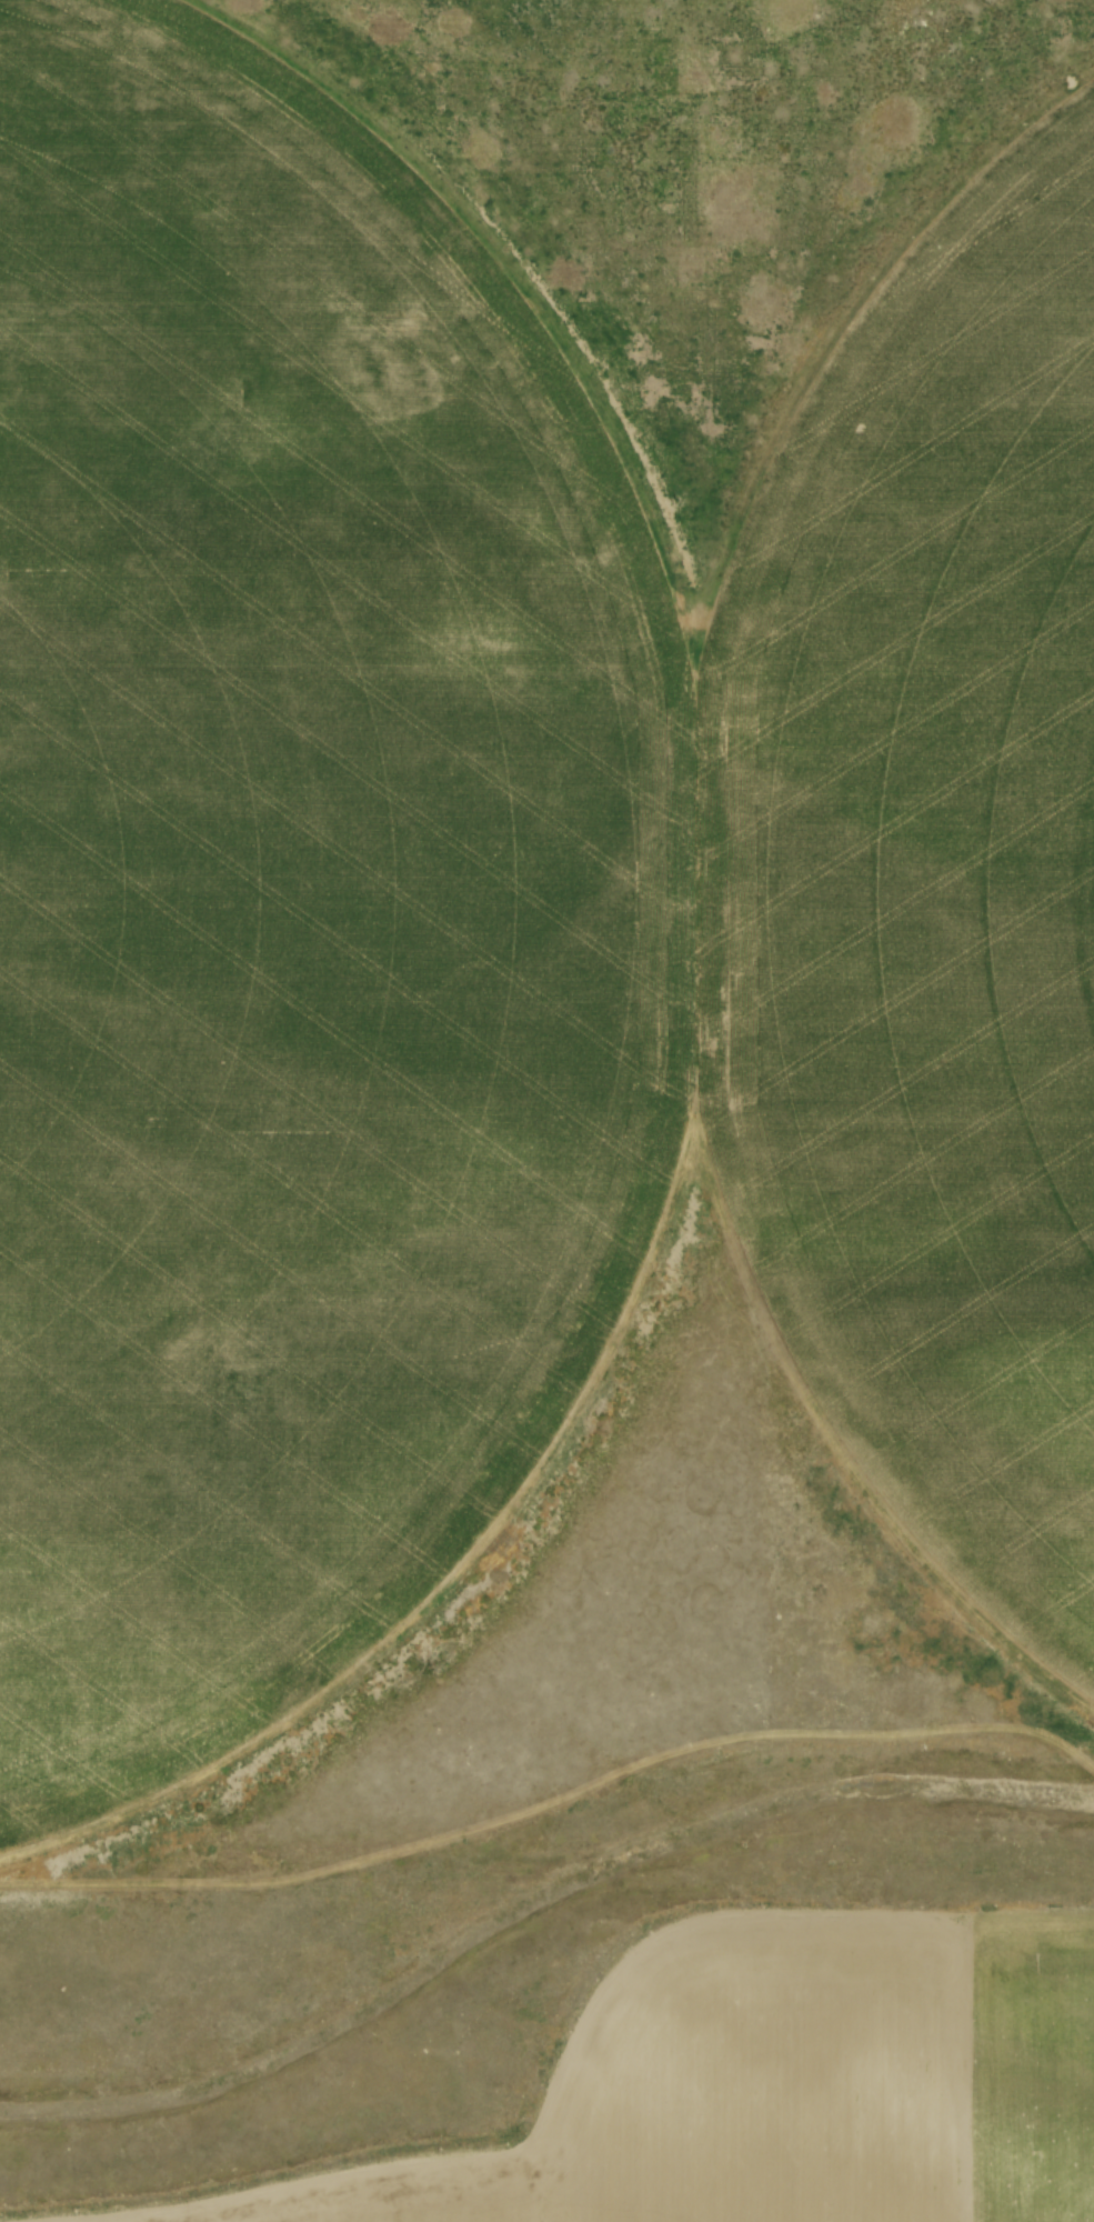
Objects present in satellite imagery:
crop: (492, 887)
crop: (803, 2086)

